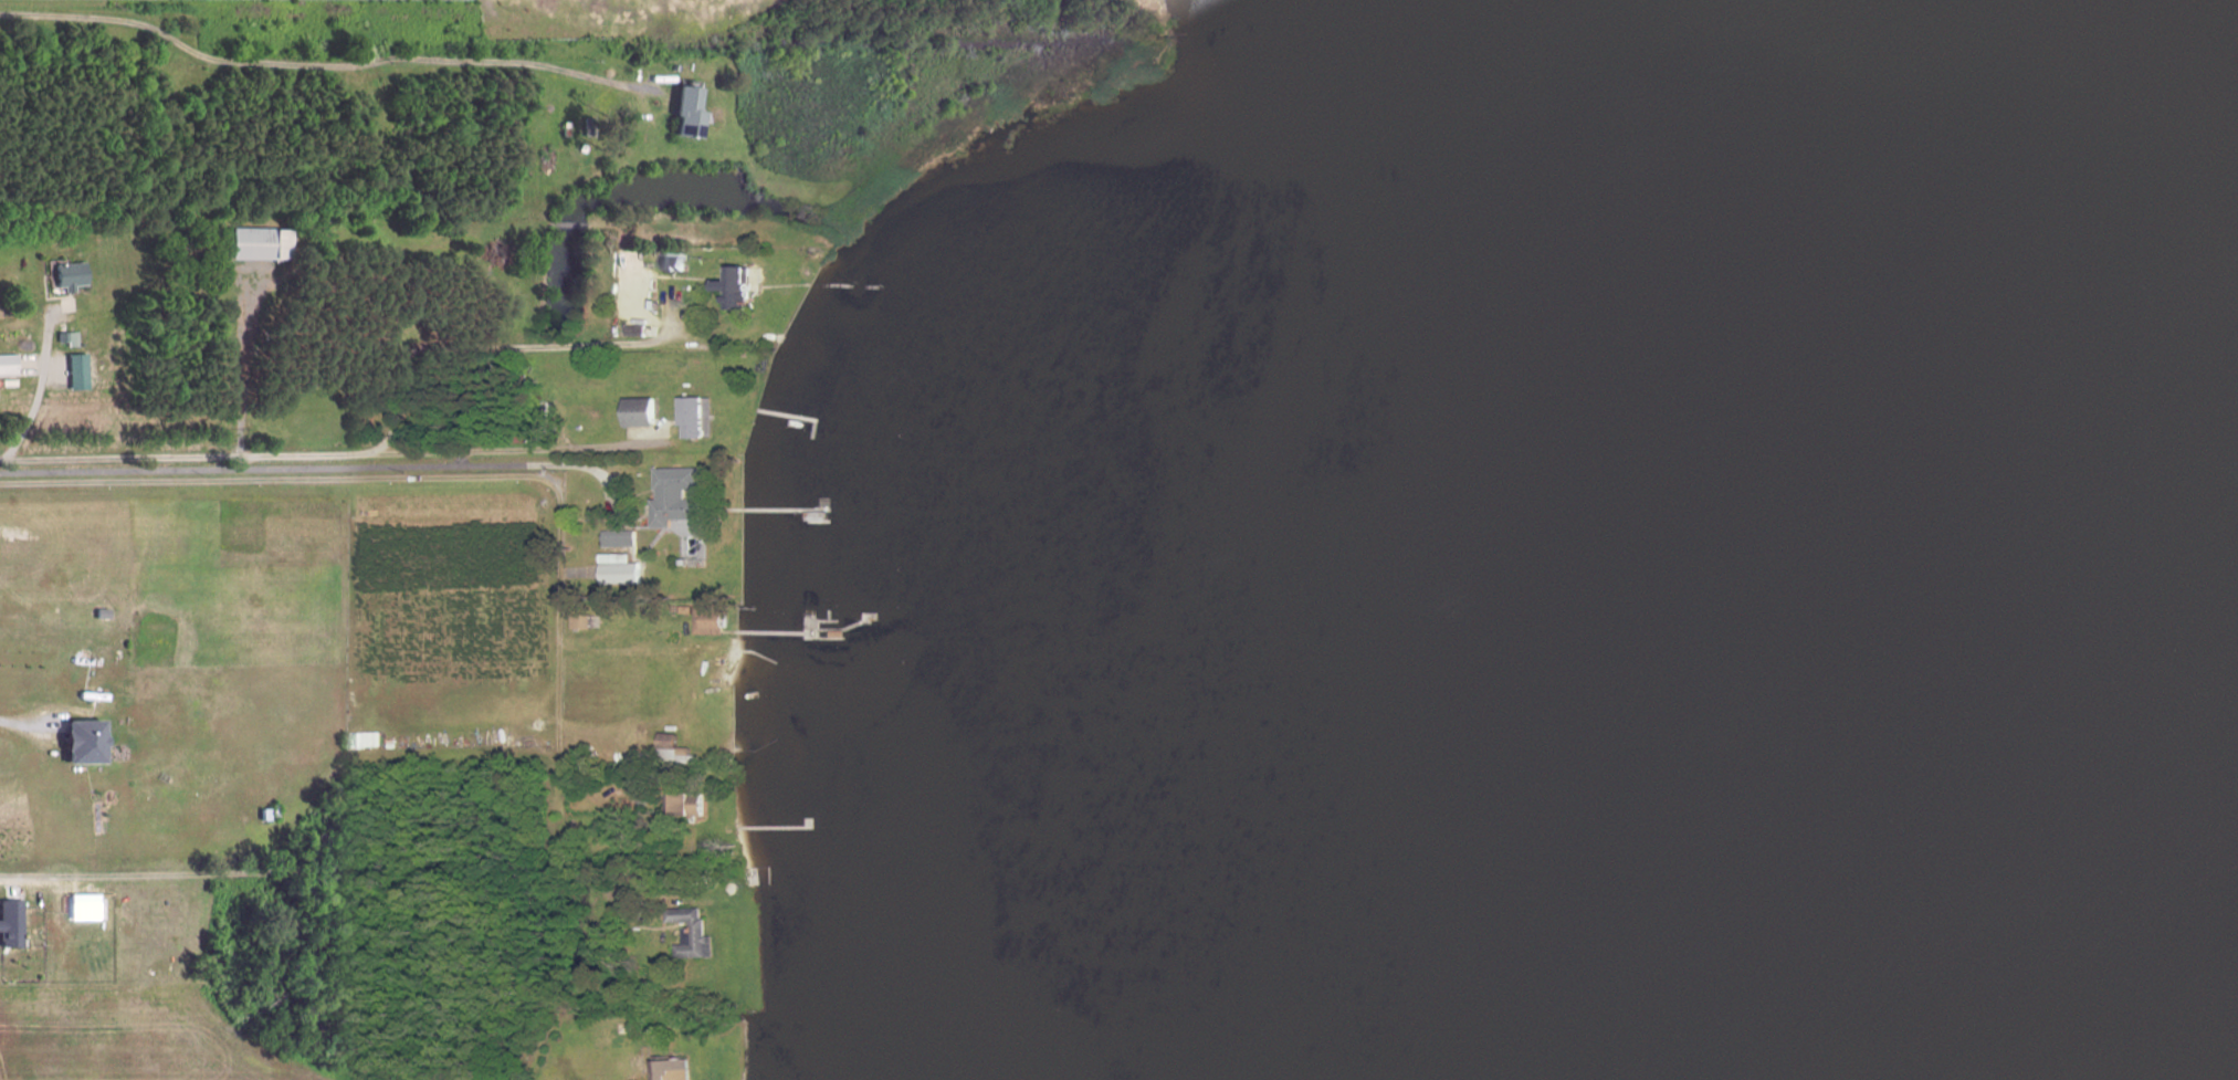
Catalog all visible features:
road: (323, 66)
building: (689, 112)
building: (589, 125)
building: (259, 244)
building: (674, 262)
building: (66, 268)
building: (736, 287)
building: (635, 329)
road: (496, 349)
road: (40, 392)
building: (637, 413)
building: (693, 417)
road: (332, 457)
road: (328, 469)
road: (461, 479)
building: (676, 495)
building: (620, 557)
building: (710, 619)
building: (582, 620)
road: (29, 726)
building: (82, 743)
building: (675, 748)
building: (744, 756)
building: (686, 803)
road: (325, 873)
building: (642, 875)
building: (757, 877)
building: (83, 908)
building: (10, 925)
building: (692, 932)
building: (628, 1024)
building: (672, 1069)

